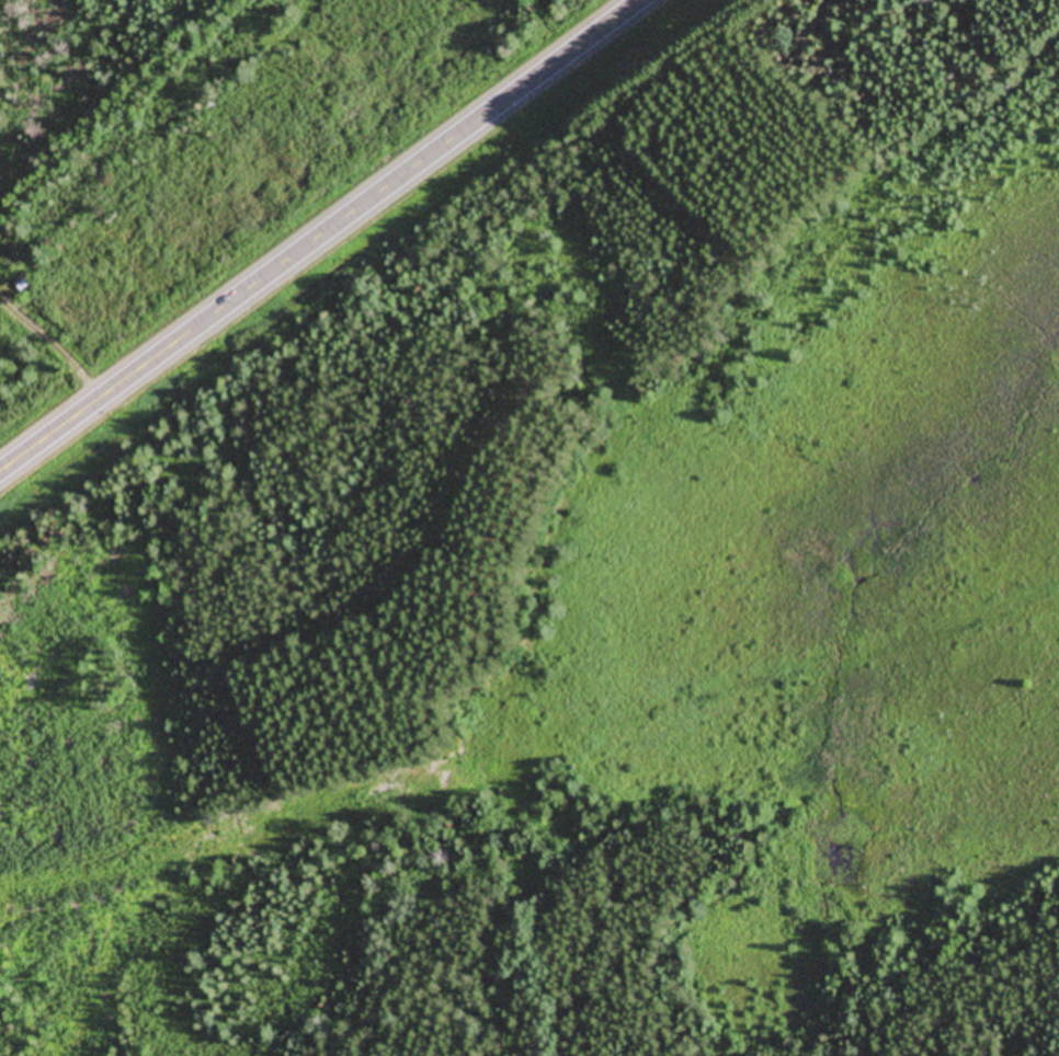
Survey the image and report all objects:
road: (321, 237)
park: (99, 761)

